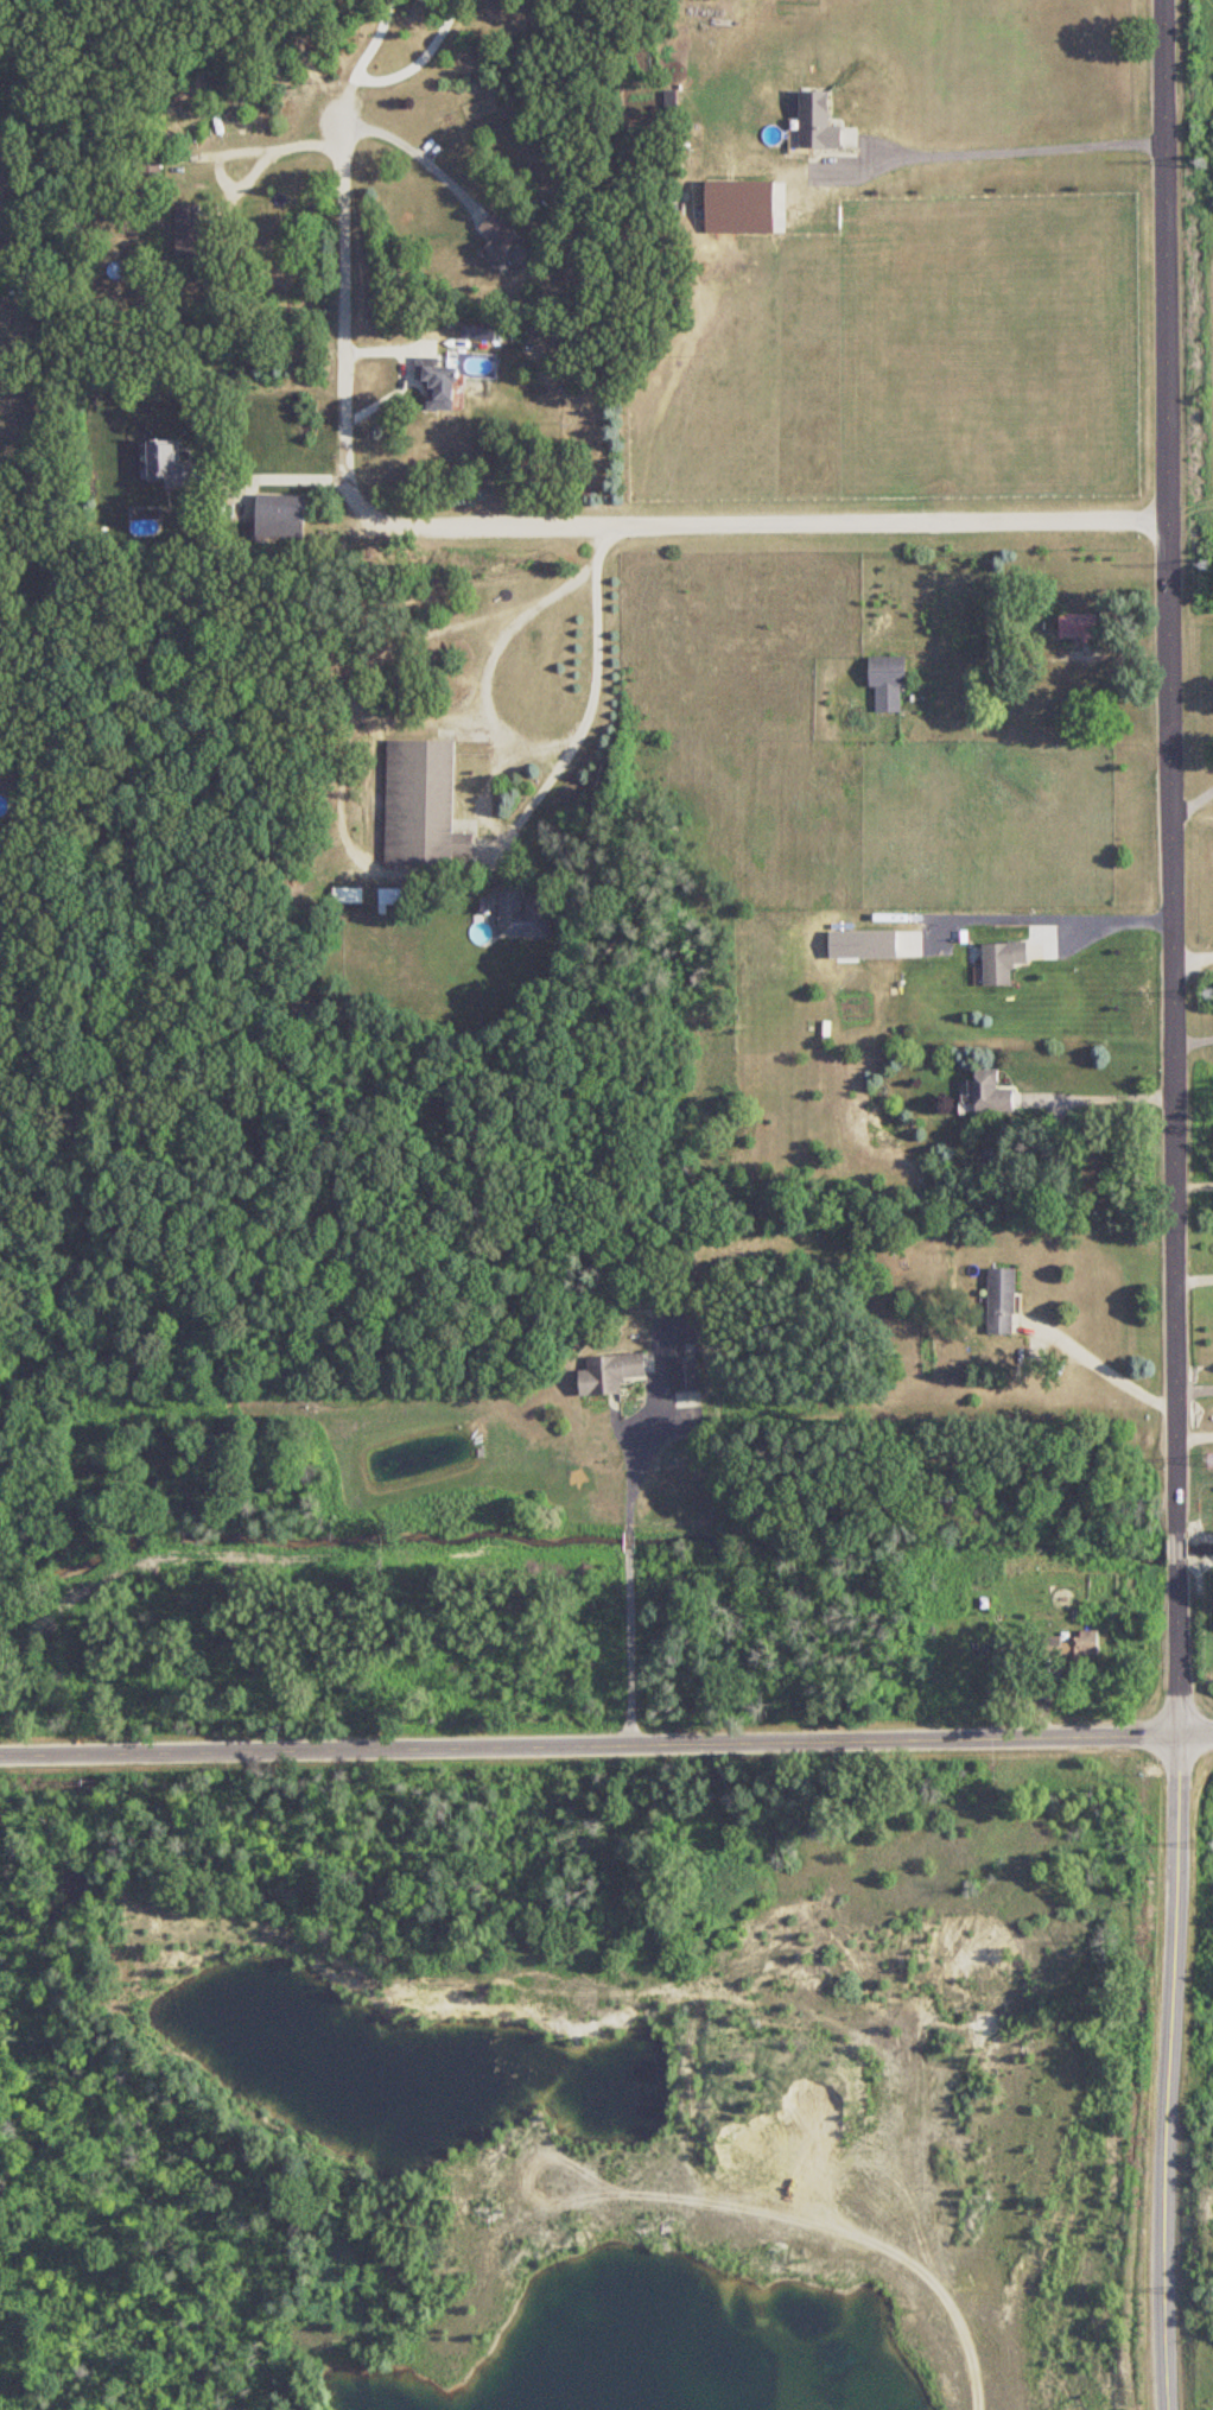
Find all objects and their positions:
road: (371, 39)
road: (418, 59)
road: (347, 104)
building: (813, 120)
road: (230, 146)
road: (1016, 150)
road: (418, 154)
power tower: (1200, 161)
building: (150, 165)
building: (192, 241)
building: (500, 241)
building: (437, 383)
building: (165, 463)
road: (273, 475)
building: (280, 516)
road: (573, 520)
power tower: (1204, 565)
building: (1078, 627)
building: (887, 683)
road: (546, 736)
road: (1170, 765)
building: (419, 803)
building: (347, 895)
building: (393, 896)
building: (522, 915)
road: (1106, 925)
road: (1192, 957)
building: (1002, 962)
power tower: (1207, 995)
road: (1193, 1032)
building: (987, 1093)
road: (1103, 1098)
road: (1193, 1276)
building: (1002, 1301)
road: (1099, 1363)
building: (609, 1374)
building: (686, 1375)
road: (1193, 1384)
road: (1194, 1432)
building: (946, 1493)
road: (1176, 1540)
road: (630, 1560)
building: (1072, 1645)
road: (606, 1745)
road: (1173, 1980)

